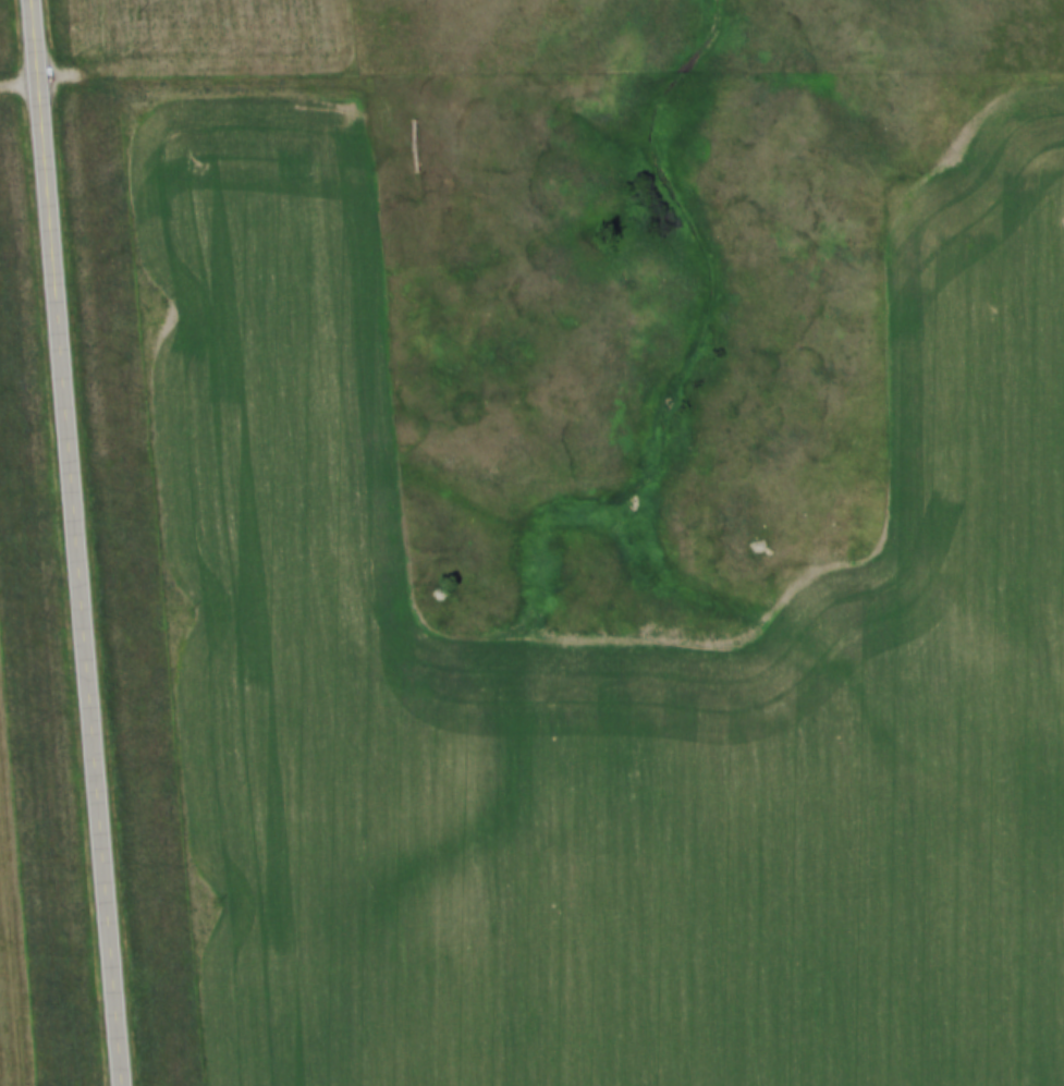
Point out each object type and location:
road: (66, 544)

